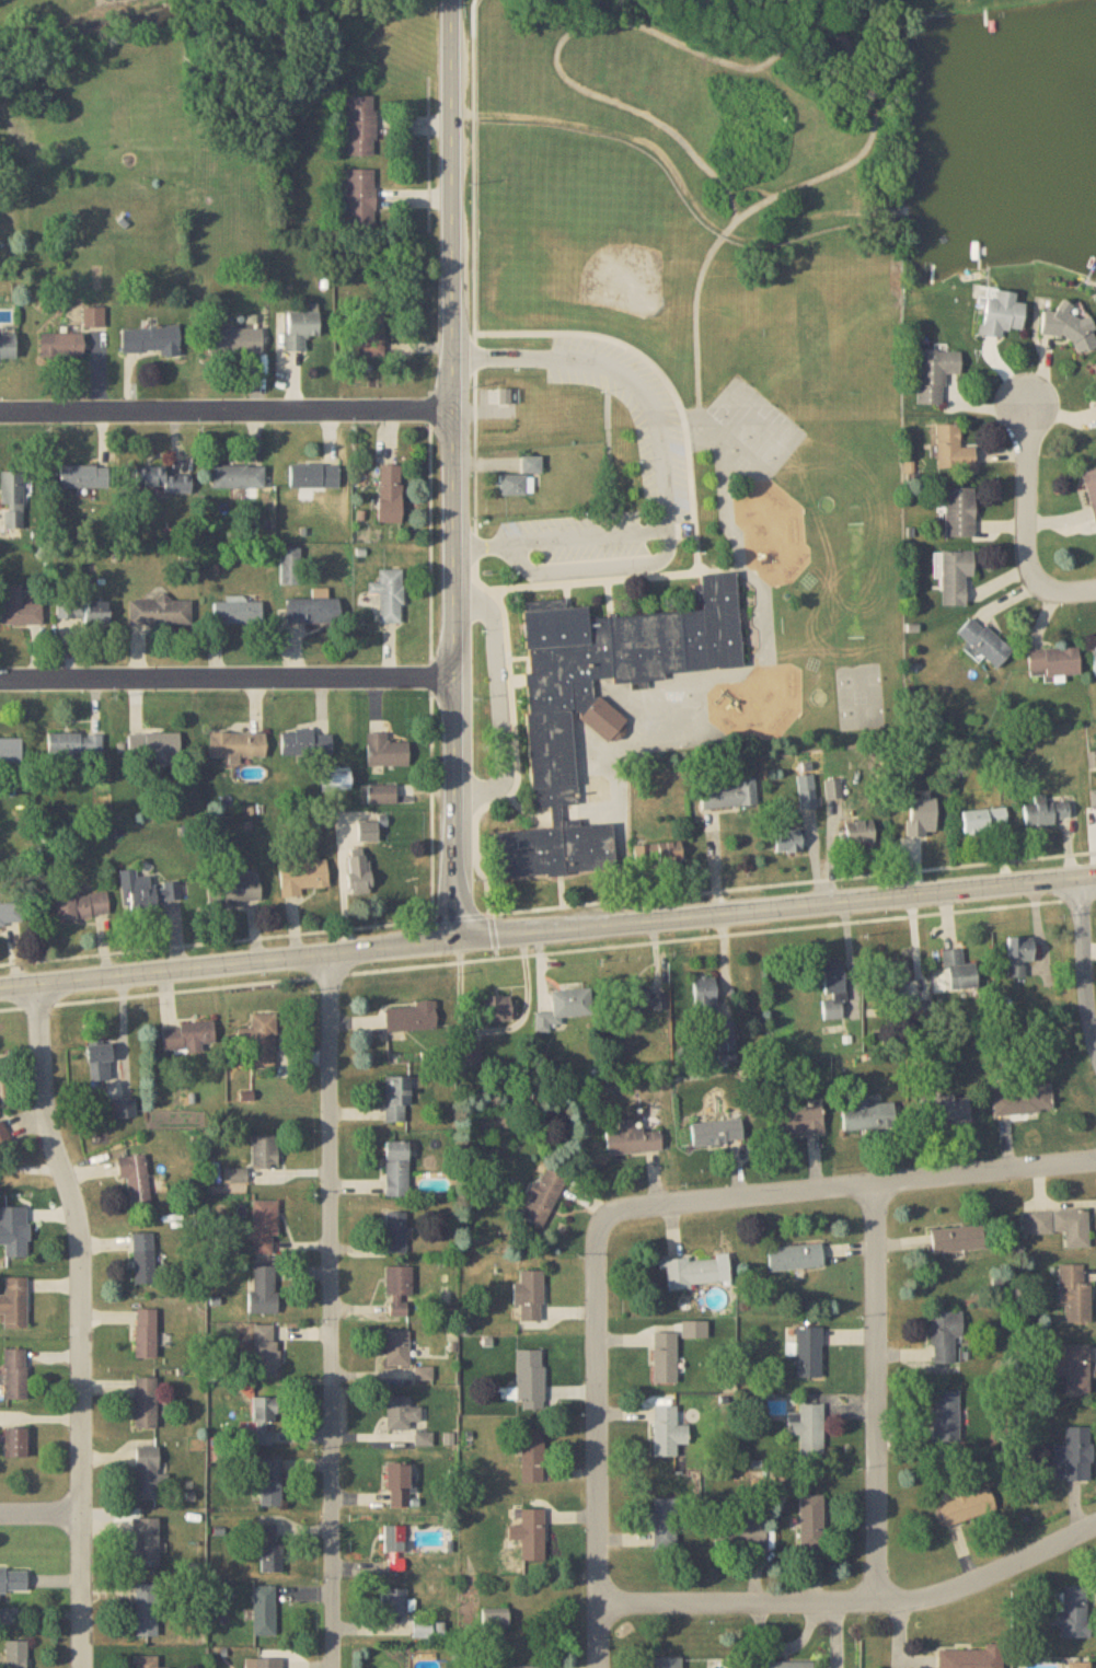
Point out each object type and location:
road: (739, 67)
building: (361, 125)
road: (627, 128)
road: (476, 163)
road: (749, 188)
building: (361, 198)
park: (619, 250)
building: (1001, 313)
building: (1069, 326)
building: (372, 327)
building: (300, 329)
building: (150, 340)
building: (235, 341)
building: (8, 346)
building: (61, 346)
road: (700, 356)
building: (1095, 366)
building: (934, 374)
road: (226, 405)
park: (759, 417)
building: (953, 450)
road: (666, 452)
parking lot: (665, 462)
building: (532, 464)
road: (452, 470)
building: (85, 476)
building: (239, 476)
building: (315, 476)
building: (163, 480)
building: (514, 485)
building: (1092, 489)
building: (390, 495)
building: (12, 500)
building: (959, 513)
road: (1027, 525)
road: (563, 534)
building: (291, 567)
road: (664, 570)
building: (955, 577)
building: (390, 596)
building: (19, 609)
building: (239, 611)
building: (313, 611)
building: (83, 612)
building: (161, 612)
building: (984, 641)
building: (1094, 660)
building: (1053, 662)
road: (229, 674)
park: (861, 690)
building: (593, 696)
road: (503, 698)
building: (307, 743)
building: (76, 744)
building: (154, 746)
building: (238, 746)
building: (10, 749)
building: (385, 752)
building: (833, 790)
building: (807, 792)
building: (382, 795)
building: (731, 796)
building: (1093, 800)
building: (1046, 812)
road: (593, 814)
building: (984, 820)
building: (368, 832)
building: (858, 833)
building: (788, 846)
building: (658, 854)
building: (358, 874)
building: (303, 877)
road: (563, 882)
road: (345, 884)
building: (235, 889)
building: (146, 892)
road: (618, 894)
building: (81, 906)
building: (10, 915)
road: (547, 929)
road: (547, 948)
building: (1019, 955)
road: (1083, 963)
building: (959, 971)
building: (893, 977)
building: (834, 991)
building: (704, 996)
building: (645, 1003)
building: (498, 1009)
building: (564, 1009)
building: (412, 1017)
building: (726, 1033)
building: (188, 1038)
building: (263, 1042)
building: (99, 1061)
building: (1, 1072)
building: (397, 1098)
building: (1025, 1100)
building: (125, 1108)
building: (945, 1109)
building: (868, 1115)
building: (798, 1122)
building: (717, 1132)
building: (632, 1139)
building: (265, 1151)
building: (397, 1168)
building: (135, 1179)
building: (543, 1197)
road: (623, 1207)
building: (1060, 1225)
building: (265, 1228)
building: (15, 1232)
building: (396, 1232)
building: (958, 1239)
building: (795, 1256)
building: (143, 1258)
building: (693, 1272)
building: (264, 1289)
building: (399, 1291)
building: (1074, 1295)
building: (529, 1296)
building: (14, 1304)
road: (331, 1309)
road: (79, 1322)
building: (147, 1333)
building: (946, 1337)
building: (397, 1348)
building: (266, 1351)
building: (809, 1352)
building: (665, 1358)
building: (1075, 1369)
building: (15, 1374)
building: (530, 1379)
road: (876, 1390)
building: (146, 1402)
building: (401, 1414)
building: (946, 1417)
building: (263, 1421)
building: (808, 1428)
building: (668, 1433)
building: (15, 1443)
building: (532, 1457)
building: (1074, 1457)
building: (147, 1473)
building: (270, 1482)
building: (399, 1486)
building: (968, 1506)
road: (41, 1511)
building: (810, 1521)
building: (666, 1525)
building: (740, 1533)
building: (530, 1534)
building: (146, 1543)
building: (394, 1548)
building: (272, 1559)
building: (13, 1582)
road: (856, 1600)
building: (394, 1602)
building: (147, 1611)
building: (265, 1611)
building: (1072, 1613)
building: (9, 1617)
building: (423, 1631)
building: (16, 1655)
building: (972, 1658)
building: (147, 1663)
building: (667, 1663)
building: (265, 1664)
building: (1078, 1665)
building: (787, 1666)
building: (531, 1667)

